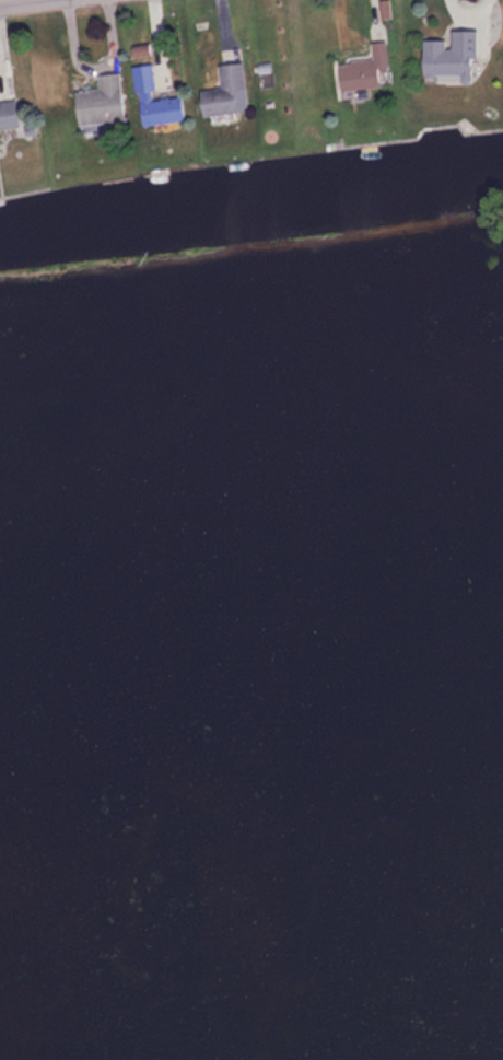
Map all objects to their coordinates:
road: (2, 0)
building: (455, 54)
building: (366, 67)
building: (229, 89)
building: (159, 98)
building: (105, 103)
building: (11, 112)

